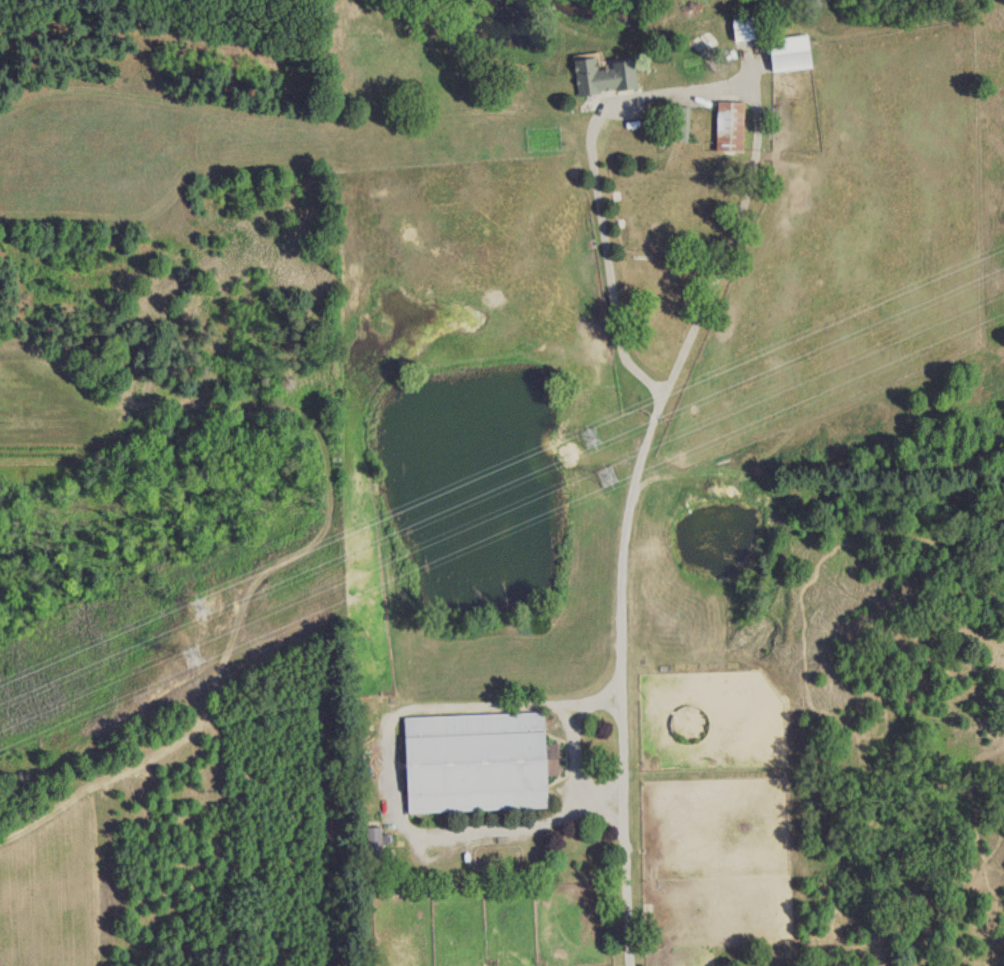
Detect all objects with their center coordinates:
building: (737, 30)
building: (786, 54)
building: (601, 77)
road: (694, 97)
building: (679, 125)
building: (728, 127)
power tower: (593, 442)
power tower: (614, 476)
power tower: (203, 609)
power tower: (195, 665)
road: (631, 682)
road: (567, 760)
building: (475, 763)
road: (383, 775)
building: (376, 838)

